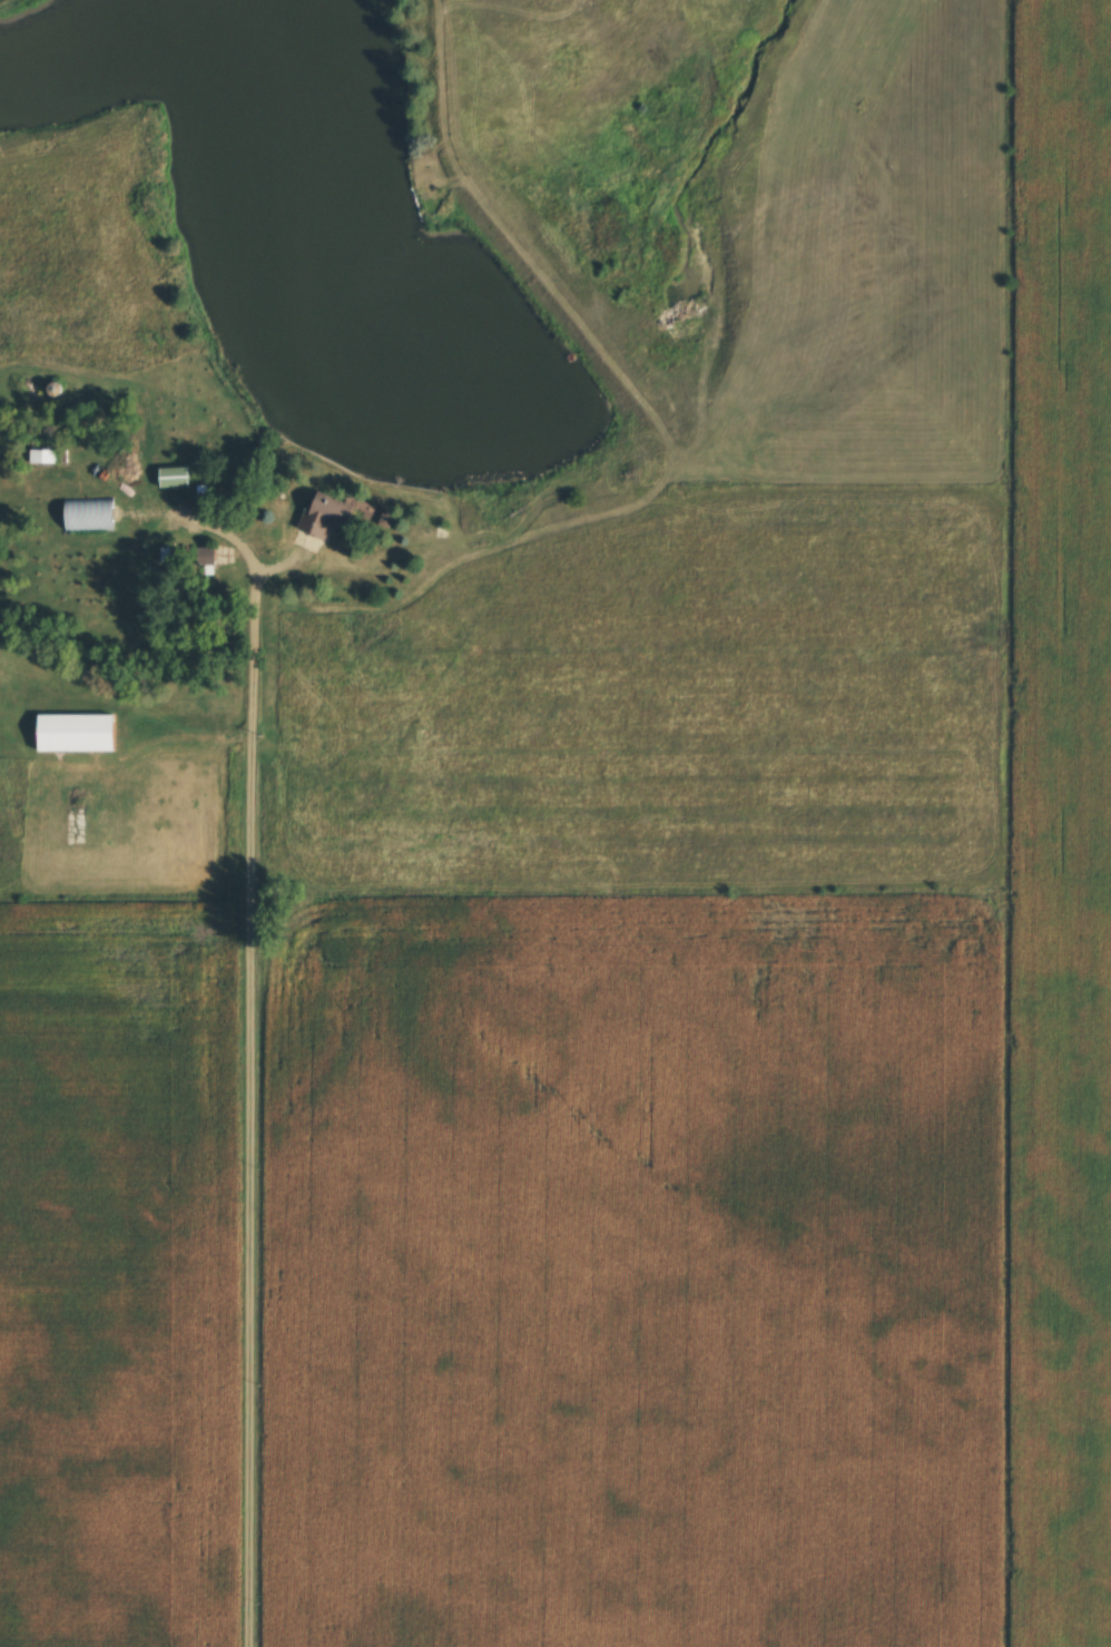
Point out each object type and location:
building: (178, 478)
building: (91, 514)
building: (331, 514)
building: (80, 734)
crop: (1069, 820)
road: (254, 1072)
crop: (640, 1273)
crop: (117, 1275)

